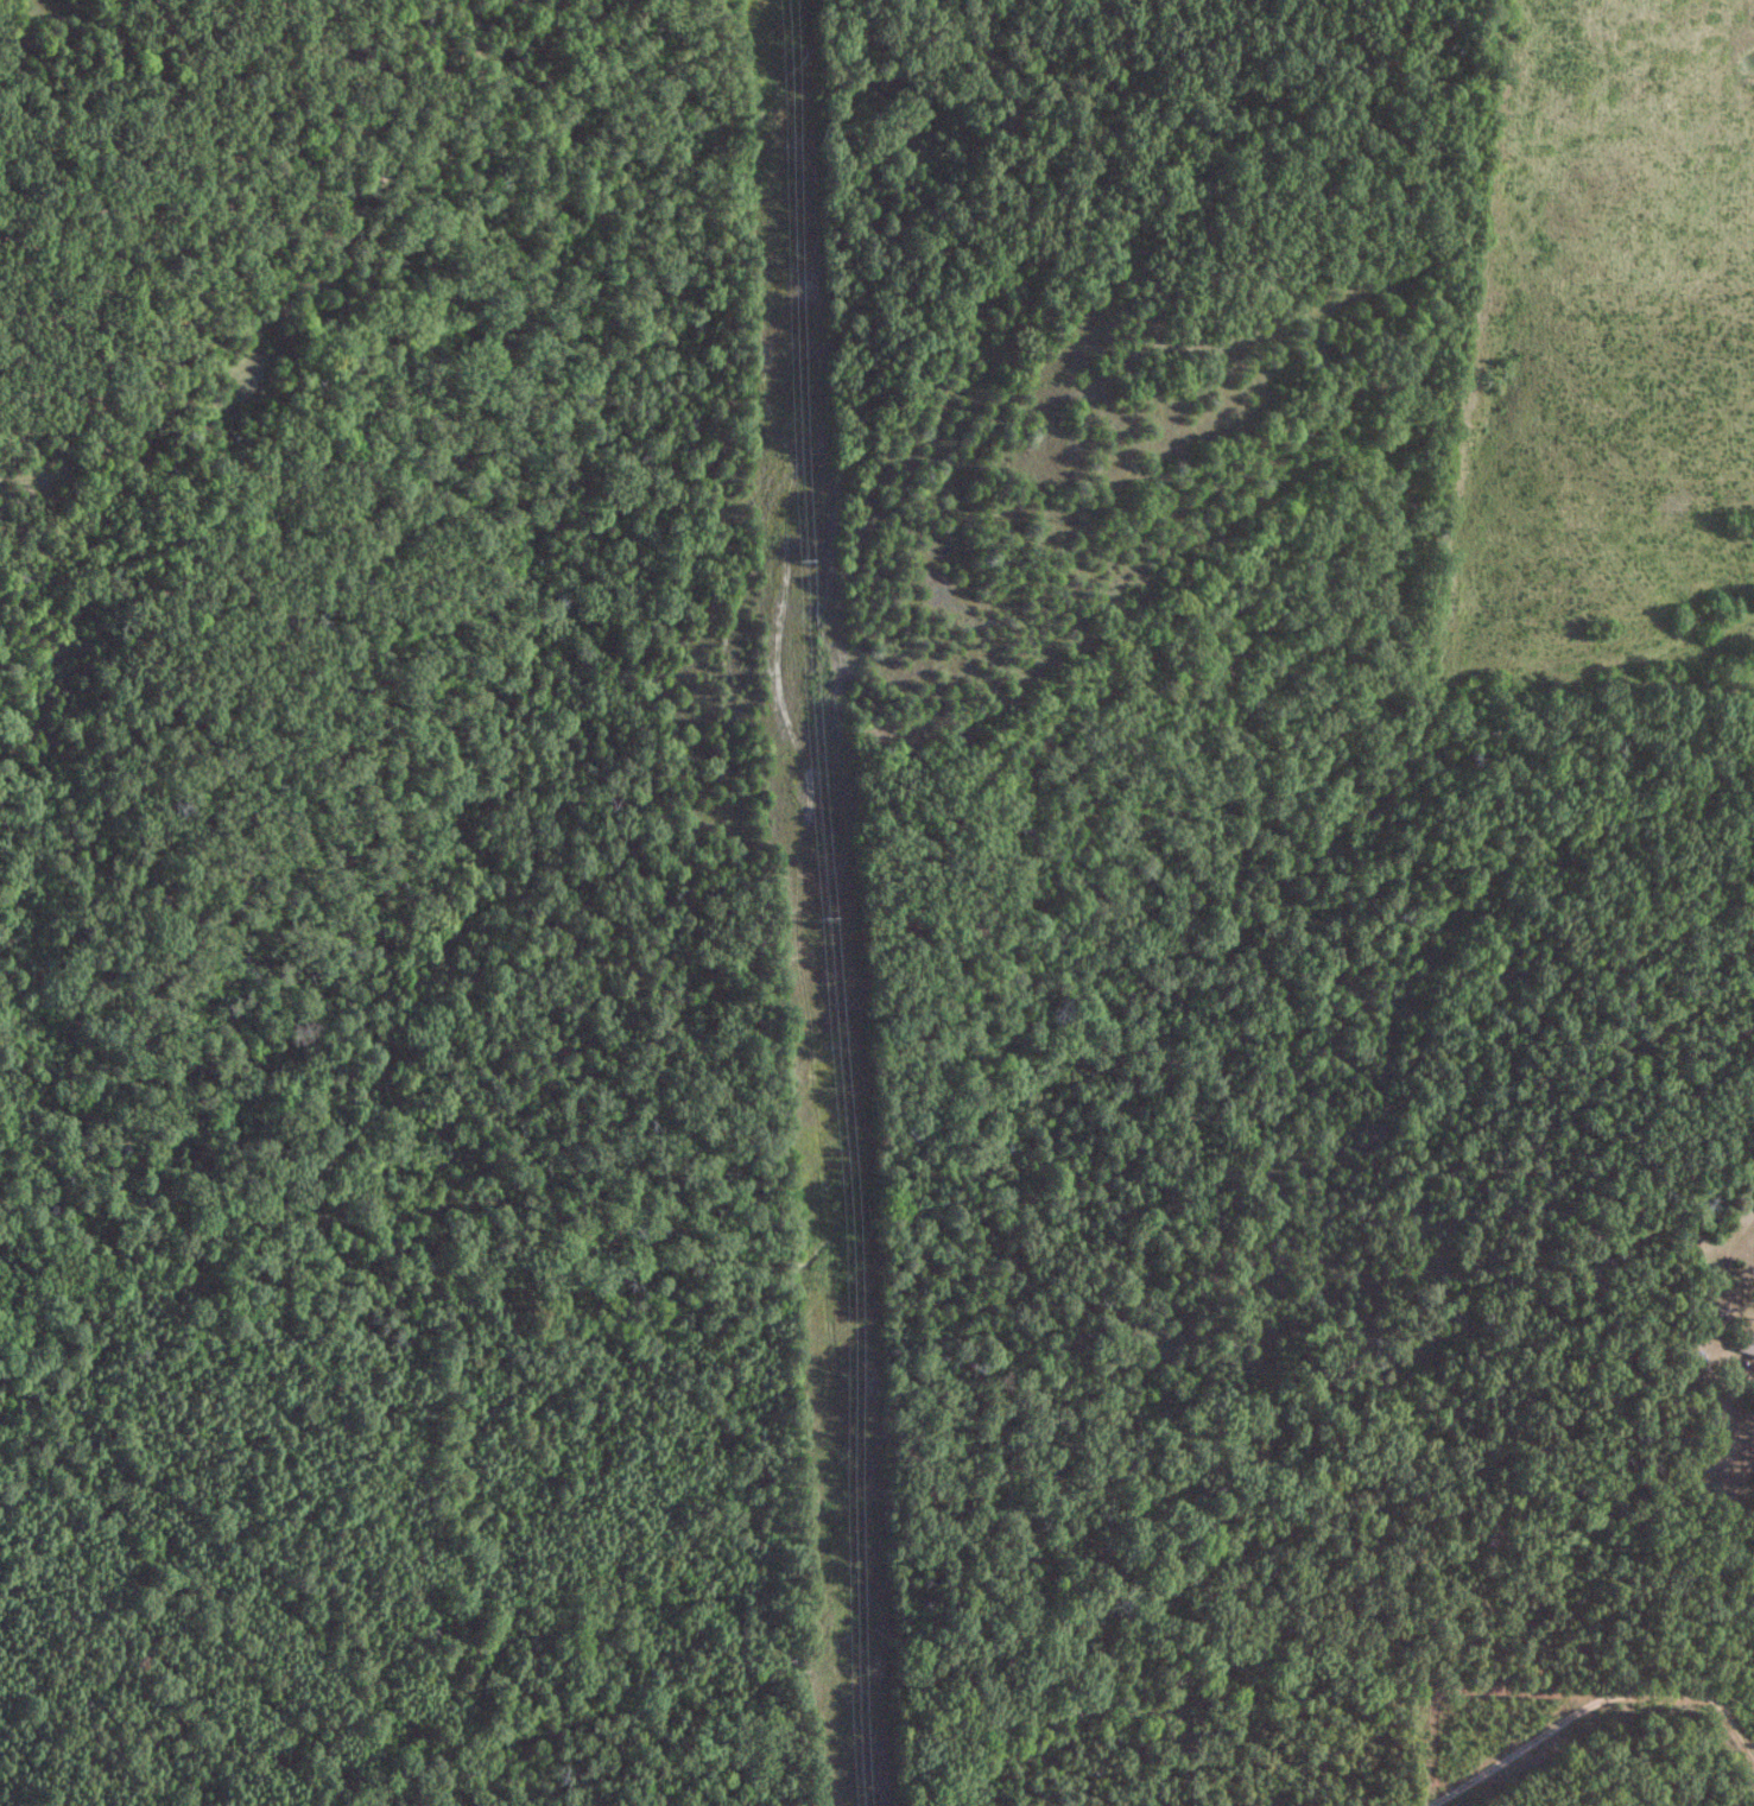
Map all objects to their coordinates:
building: (1742, 1346)

